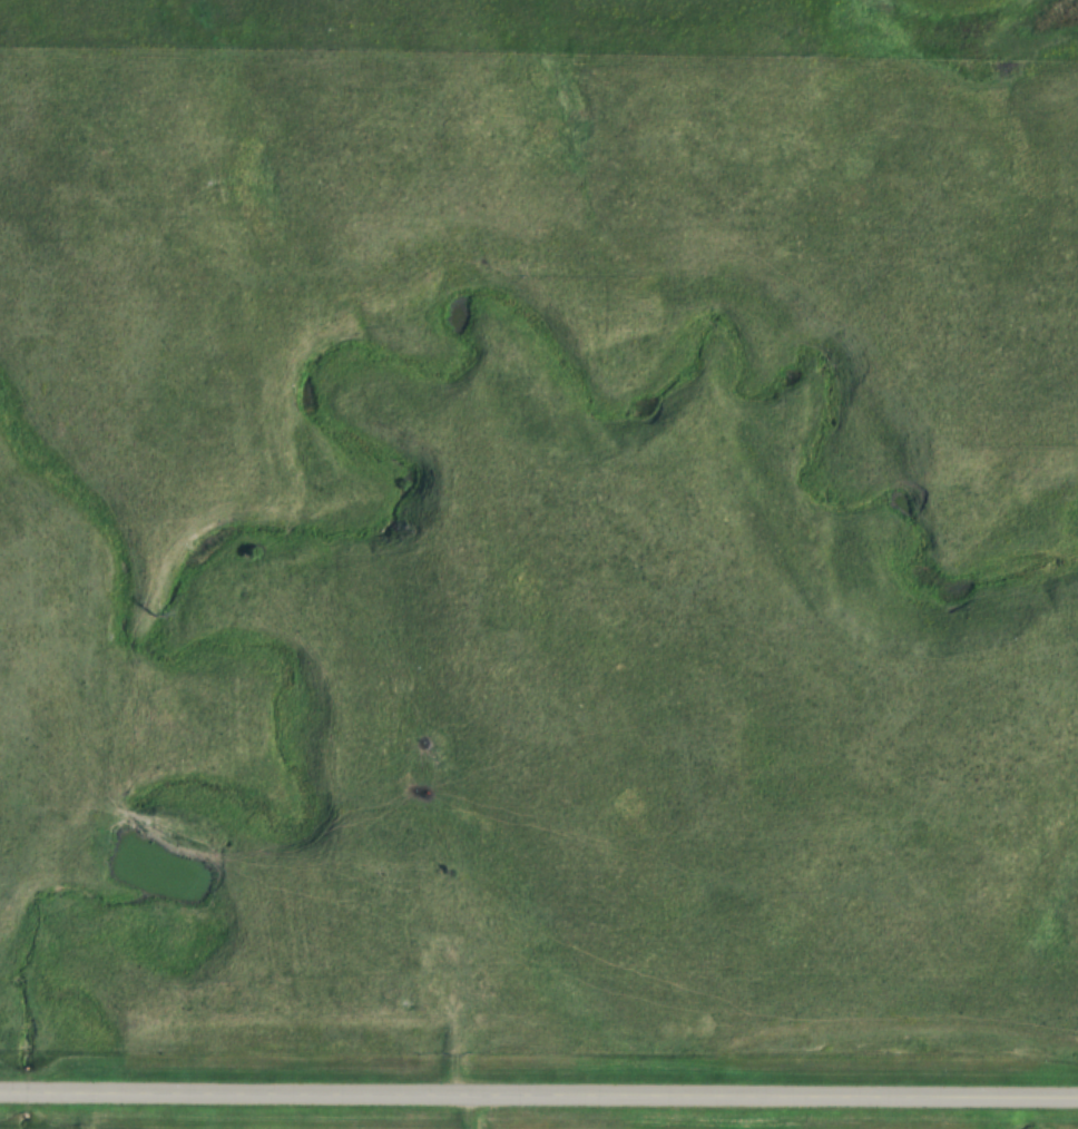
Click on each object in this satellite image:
road: (539, 1094)

